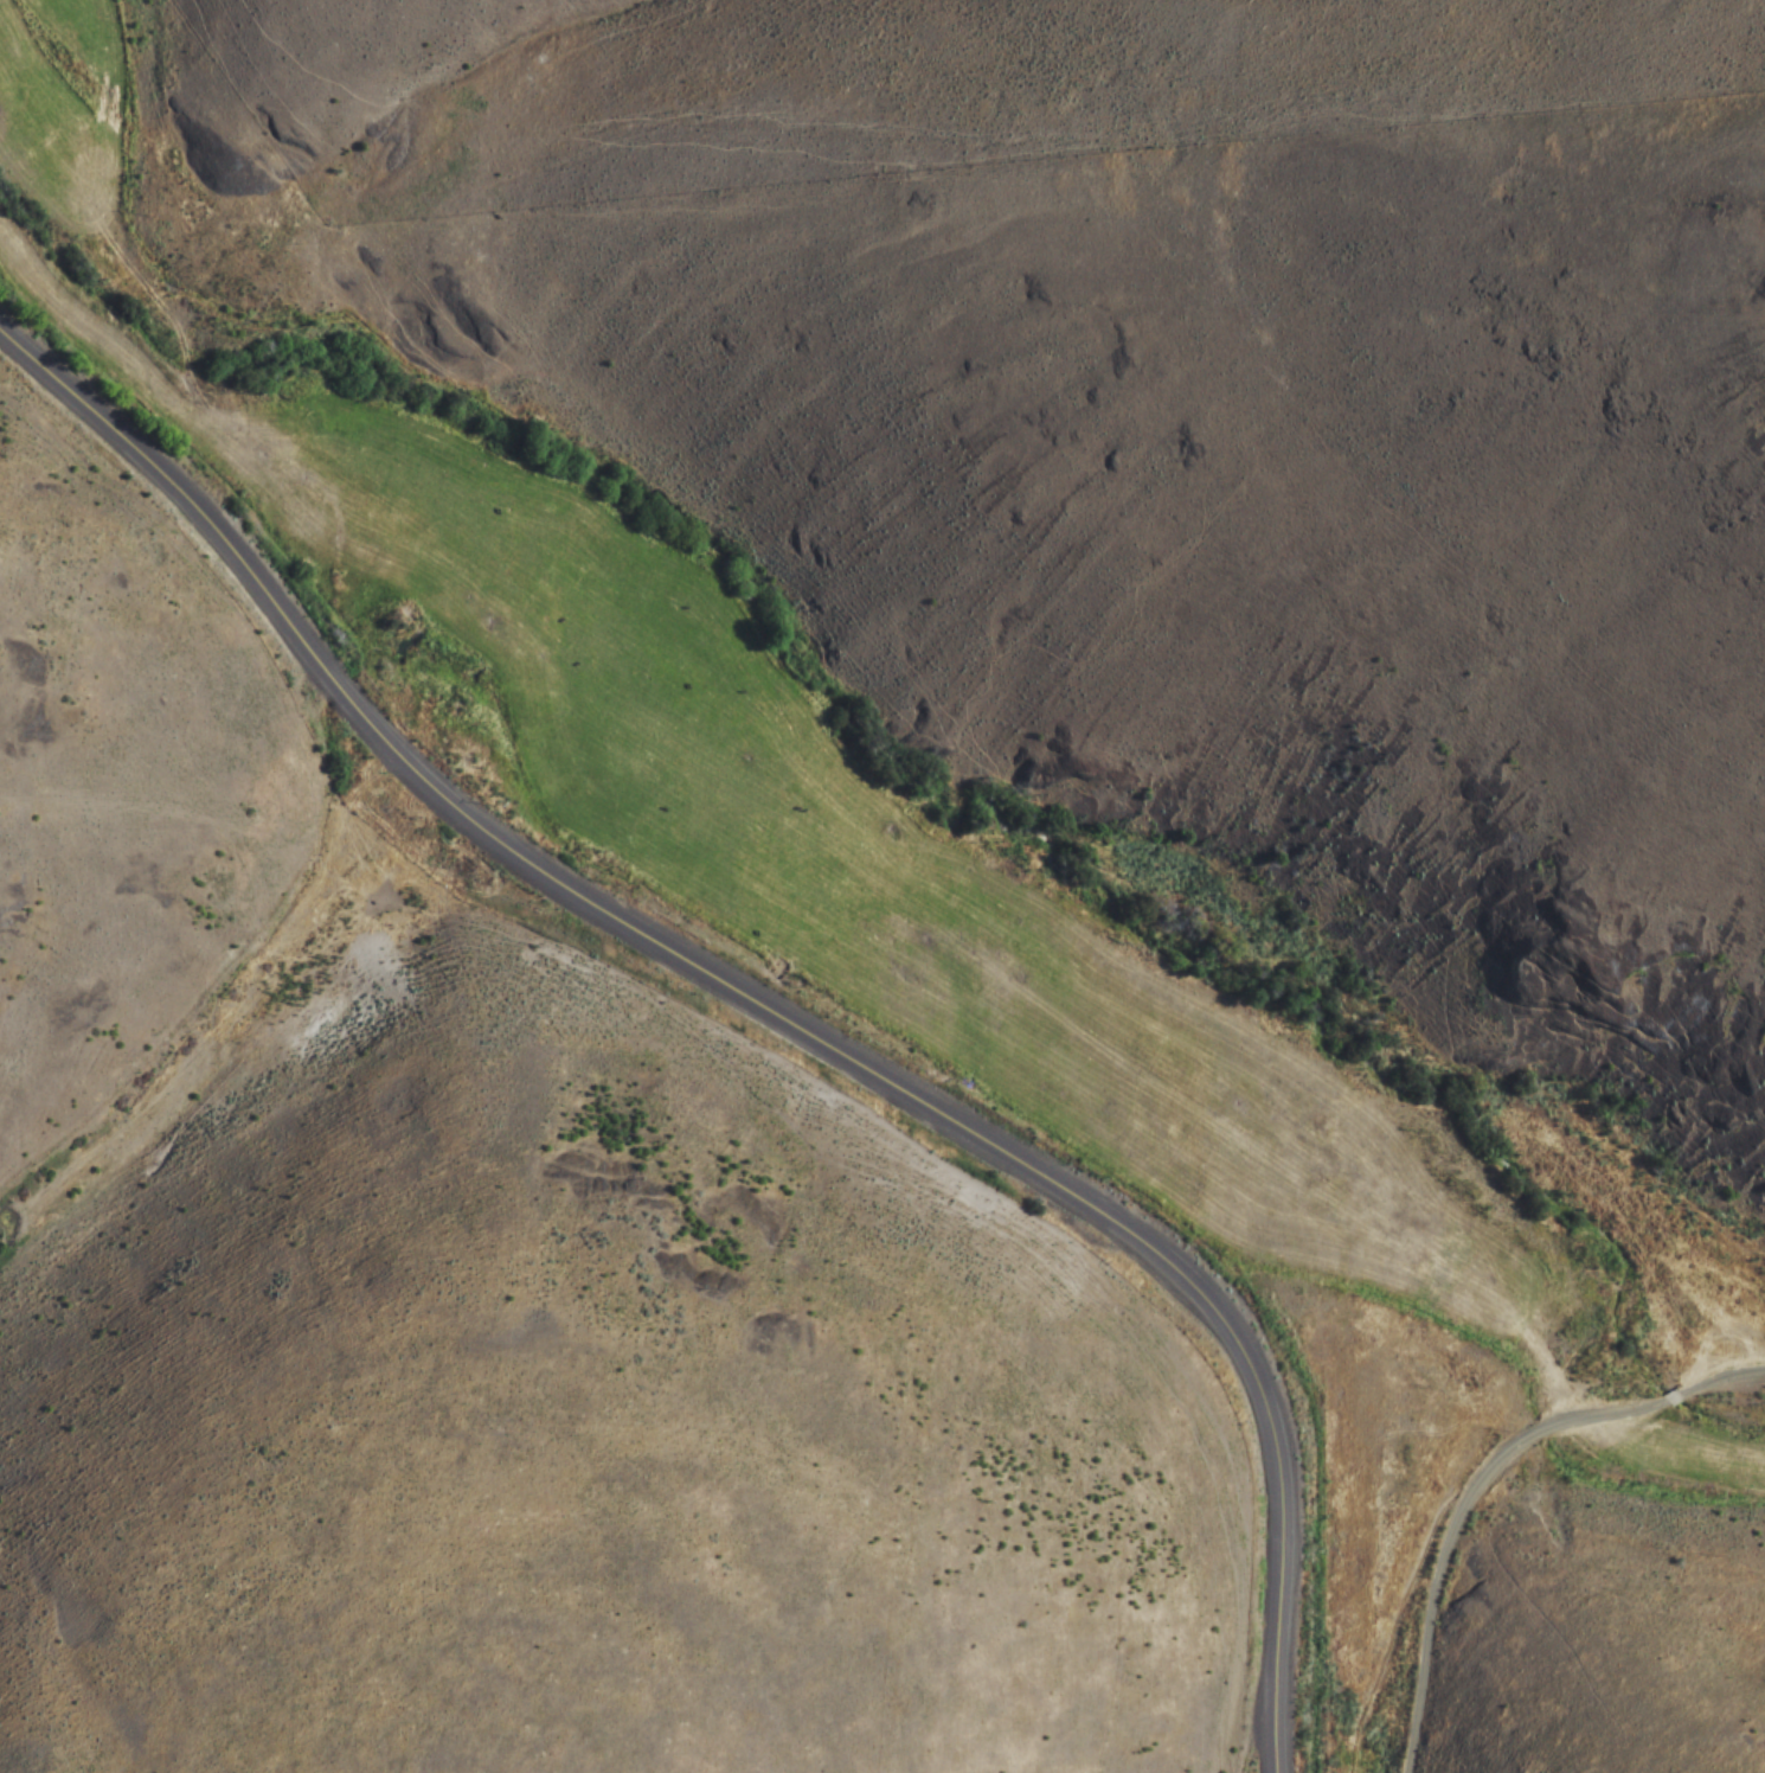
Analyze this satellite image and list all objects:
road: (759, 1006)
road: (1481, 1481)

